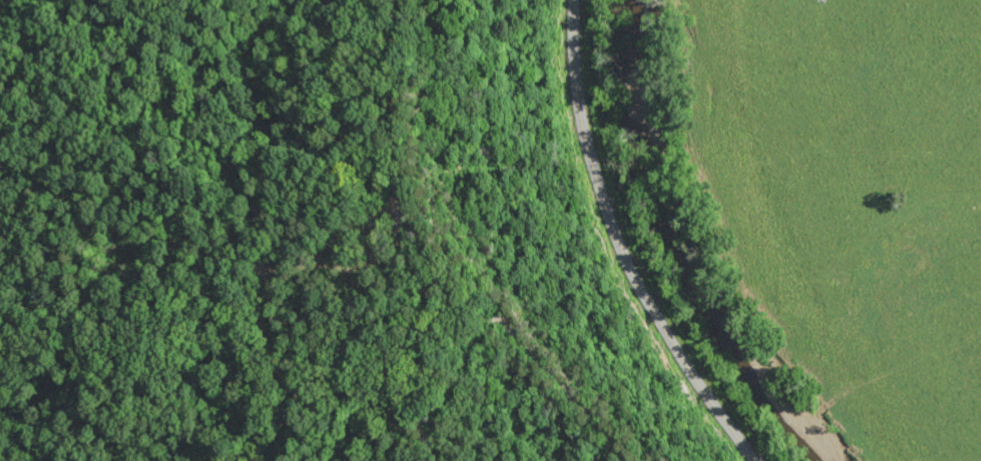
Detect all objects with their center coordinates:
road: (633, 248)

